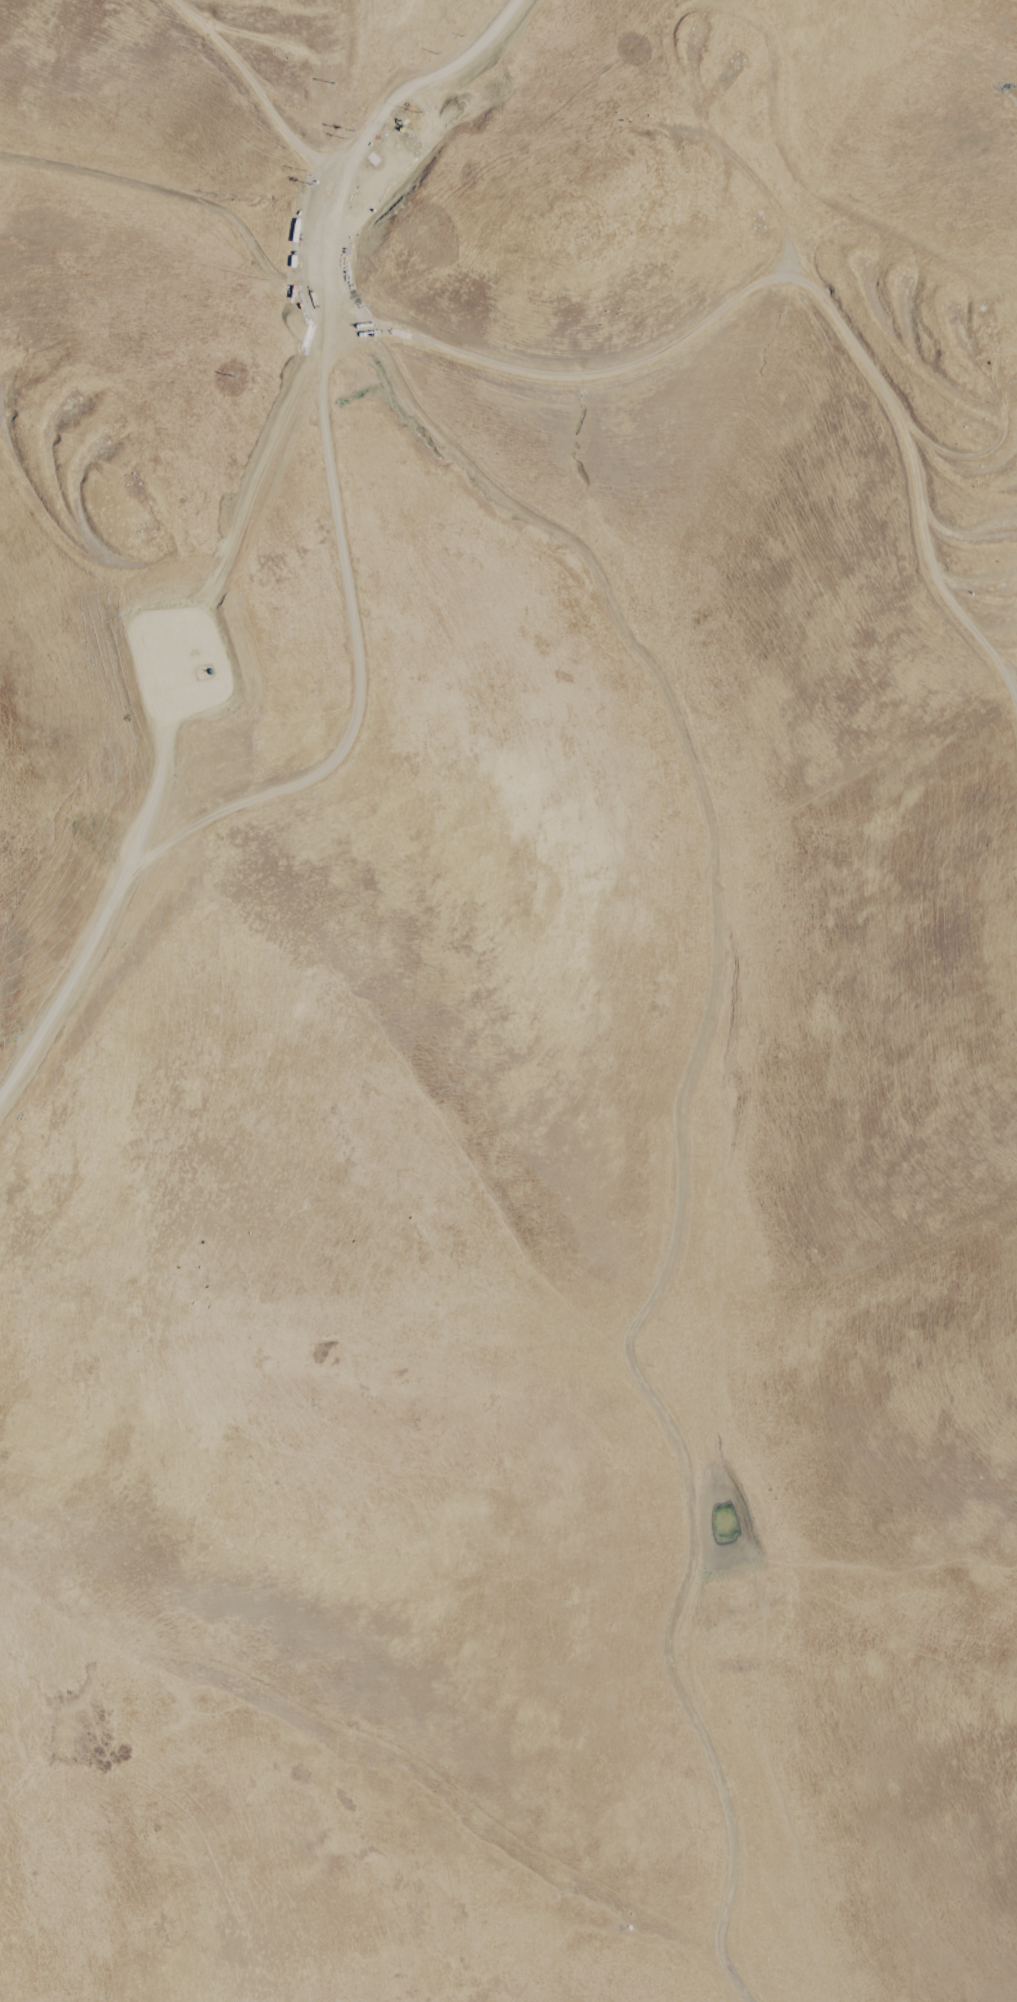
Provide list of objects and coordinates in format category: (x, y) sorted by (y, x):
road: (248, 82)
road: (340, 148)
road: (172, 194)
road: (790, 285)
building: (336, 306)
road: (345, 516)
wind turbine: (201, 676)

